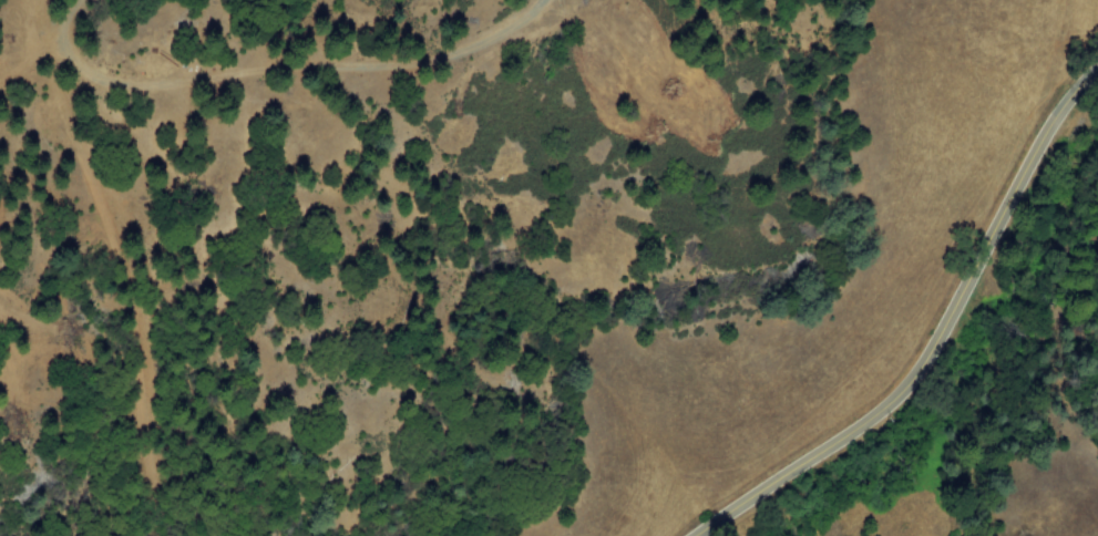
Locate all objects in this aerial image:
road: (940, 333)

